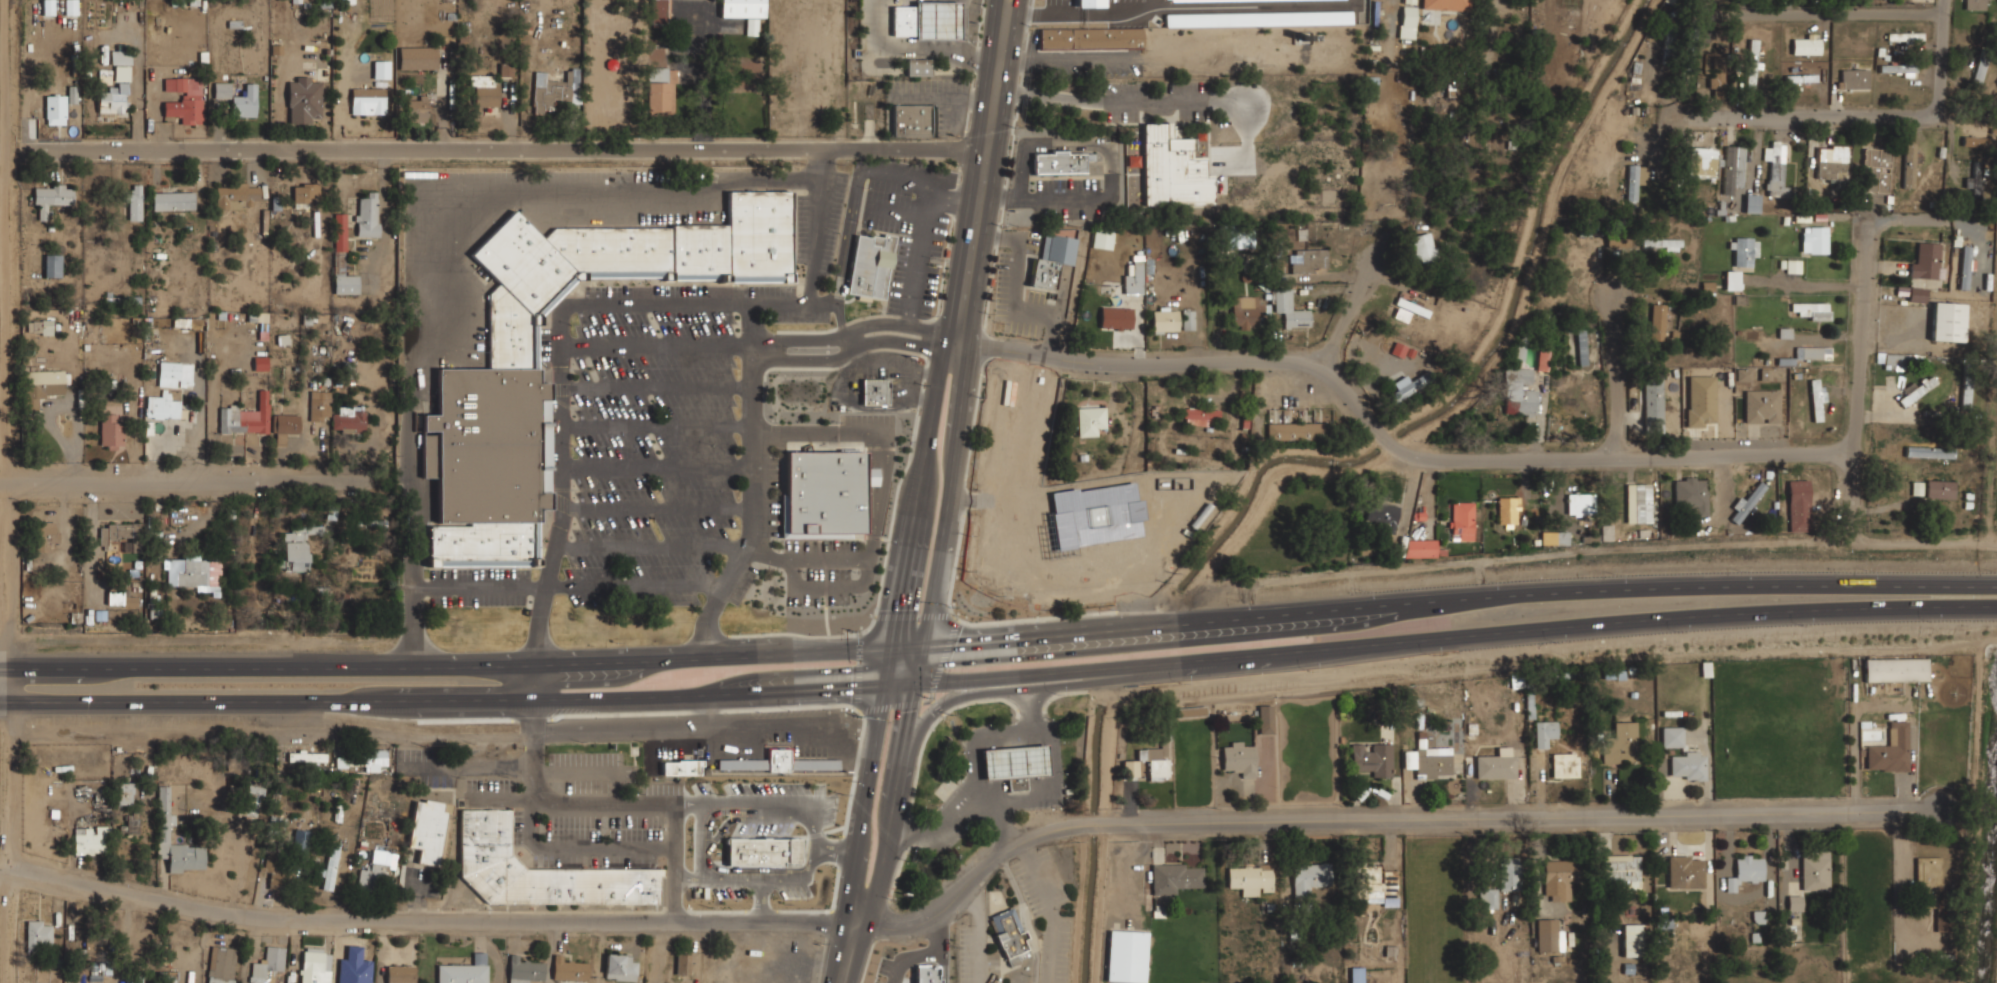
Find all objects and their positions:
building: (1411, 1)
building: (1670, 1)
building: (1446, 4)
building: (1978, 4)
building: (742, 8)
building: (658, 13)
building: (1408, 15)
road: (1819, 17)
building: (926, 20)
building: (751, 26)
building: (1906, 35)
building: (1090, 37)
building: (1687, 46)
building: (1807, 46)
building: (120, 58)
building: (418, 58)
building: (1752, 62)
building: (918, 67)
building: (1899, 67)
building: (380, 69)
building: (1980, 69)
road: (986, 73)
road: (1009, 73)
building: (1718, 77)
building: (1801, 77)
building: (1855, 78)
building: (555, 89)
building: (222, 90)
building: (660, 90)
building: (485, 91)
building: (72, 94)
building: (184, 99)
building: (113, 100)
building: (304, 100)
building: (368, 101)
building: (245, 102)
building: (417, 109)
building: (55, 110)
road: (1878, 115)
building: (911, 120)
building: (1976, 141)
road: (516, 148)
building: (1059, 161)
building: (1699, 161)
building: (1832, 161)
building: (1909, 164)
building: (1173, 167)
building: (1734, 167)
building: (1877, 167)
building: (1776, 169)
road: (881, 177)
building: (1975, 179)
building: (1632, 182)
building: (305, 194)
building: (235, 196)
building: (51, 199)
building: (173, 201)
building: (1752, 202)
building: (135, 203)
building: (367, 216)
road: (1914, 220)
parking lot: (910, 230)
building: (340, 232)
building: (1232, 236)
building: (1102, 237)
building: (1815, 238)
building: (1619, 240)
road: (922, 243)
building: (1661, 243)
building: (1977, 244)
building: (1423, 247)
building: (1744, 250)
road: (845, 255)
building: (1052, 259)
building: (1926, 259)
building: (1311, 260)
building: (1793, 265)
building: (52, 266)
building: (870, 266)
building: (1964, 267)
road: (813, 275)
building: (1732, 280)
building: (345, 282)
road: (1803, 283)
building: (1131, 284)
building: (1917, 293)
building: (1412, 306)
building: (1248, 308)
building: (1290, 309)
building: (1812, 309)
road: (1354, 312)
road: (840, 316)
building: (1116, 317)
building: (1165, 319)
building: (1187, 319)
building: (1658, 319)
building: (1949, 321)
building: (40, 327)
road: (854, 333)
road: (657, 345)
building: (1522, 345)
building: (1581, 346)
road: (853, 349)
road: (562, 351)
building: (1813, 352)
building: (1543, 356)
building: (1894, 360)
building: (260, 363)
road: (1856, 369)
building: (176, 372)
building: (1519, 375)
road: (1614, 377)
building: (1410, 386)
building: (41, 387)
road: (657, 387)
building: (1917, 389)
building: (874, 391)
building: (488, 396)
road: (960, 396)
building: (1653, 398)
building: (1817, 399)
building: (1700, 400)
building: (1522, 401)
building: (1721, 401)
building: (320, 405)
building: (1763, 405)
building: (162, 406)
building: (1200, 415)
road: (933, 416)
building: (246, 417)
building: (1091, 417)
building: (349, 419)
building: (111, 426)
road: (657, 426)
building: (284, 428)
road: (1382, 428)
building: (1294, 431)
parking lot: (658, 437)
building: (1929, 451)
road: (751, 461)
road: (1033, 465)
road: (656, 468)
road: (195, 480)
building: (1917, 488)
building: (1940, 489)
building: (827, 491)
building: (1692, 494)
parking lot: (771, 496)
building: (1748, 499)
building: (1577, 502)
building: (1639, 502)
building: (1800, 504)
road: (656, 510)
building: (1508, 512)
building: (1383, 514)
building: (1462, 520)
building: (1100, 530)
building: (120, 534)
building: (45, 536)
building: (297, 547)
building: (1423, 547)
road: (648, 549)
building: (195, 573)
road: (479, 585)
parking lot: (741, 585)
road: (668, 586)
parking lot: (479, 587)
building: (673, 595)
road: (1052, 595)
road: (1458, 596)
building: (115, 598)
road: (1454, 639)
traffic signals: (922, 646)
traffic signals: (895, 648)
road: (461, 663)
building: (1898, 668)
road: (530, 681)
road: (899, 684)
traffic signals: (913, 684)
traffic signals: (885, 685)
road: (976, 691)
road: (442, 699)
building: (1191, 711)
building: (1265, 719)
building: (1545, 731)
building: (1672, 736)
building: (1620, 744)
building: (1891, 749)
building: (307, 755)
building: (376, 757)
building: (1239, 758)
building: (1373, 759)
building: (1157, 760)
road: (974, 761)
building: (778, 763)
building: (1015, 764)
building: (1433, 764)
building: (1565, 764)
building: (1495, 765)
building: (682, 766)
building: (1688, 766)
road: (894, 787)
building: (125, 792)
building: (252, 800)
road: (590, 802)
road: (863, 804)
building: (164, 814)
road: (996, 814)
road: (1385, 819)
building: (429, 830)
building: (91, 839)
building: (764, 839)
building: (302, 840)
building: (330, 865)
road: (814, 866)
building: (374, 869)
building: (538, 869)
building: (1621, 869)
building: (1747, 869)
building: (1816, 869)
building: (1686, 872)
building: (1929, 872)
building: (277, 873)
building: (1510, 873)
building: (1175, 876)
building: (1310, 876)
building: (1251, 878)
building: (1558, 878)
road: (719, 884)
building: (1374, 884)
building: (1488, 896)
building: (1795, 902)
building: (1945, 919)
road: (423, 921)
building: (1794, 926)
building: (38, 933)
building: (1550, 934)
building: (1010, 936)
building: (1632, 939)
road: (659, 953)
road: (847, 953)
building: (1127, 955)
building: (684, 962)
building: (221, 964)
building: (267, 964)
building: (314, 964)
building: (354, 964)
building: (620, 966)
building: (569, 967)
building: (525, 969)
building: (465, 970)
building: (401, 973)
building: (927, 974)
building: (1356, 974)
building: (168, 977)
building: (137, 981)
building: (924, 982)

